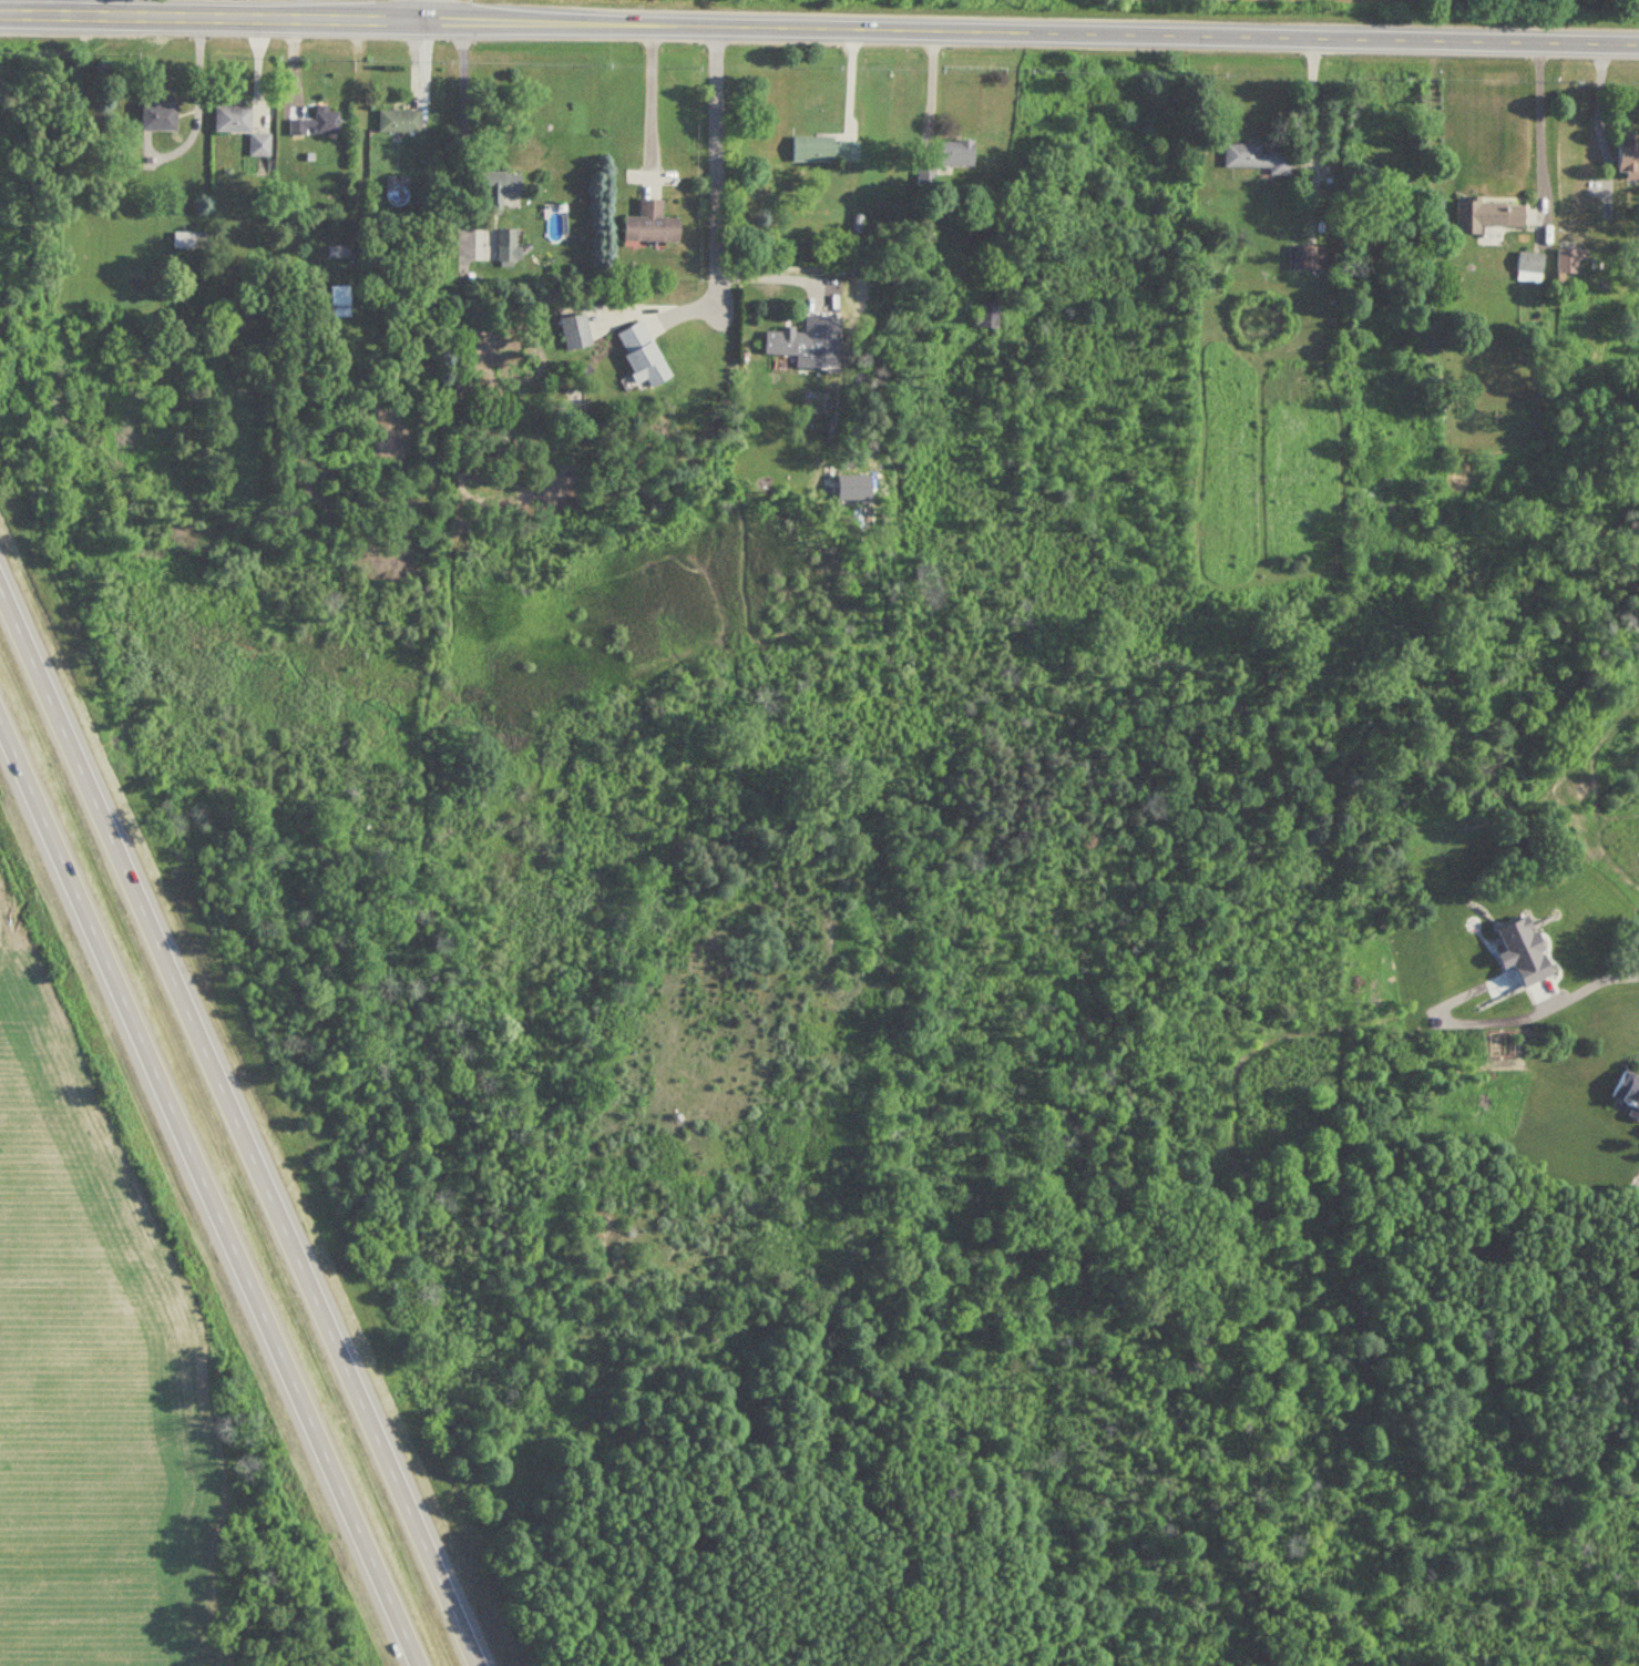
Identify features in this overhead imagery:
road: (69, 8)
road: (226, 10)
road: (426, 11)
road: (34, 16)
road: (246, 20)
road: (442, 23)
road: (1048, 34)
road: (651, 89)
road: (197, 99)
road: (1310, 99)
building: (153, 116)
road: (1597, 117)
building: (228, 119)
building: (395, 121)
building: (313, 123)
road: (1537, 129)
road: (461, 133)
building: (253, 144)
building: (821, 150)
road: (714, 153)
building: (952, 153)
building: (1622, 156)
building: (1371, 157)
building: (1253, 159)
building: (493, 187)
building: (1481, 215)
building: (645, 224)
building: (186, 239)
building: (503, 245)
building: (335, 251)
building: (1308, 256)
building: (1565, 259)
building: (1525, 266)
road: (780, 280)
building: (337, 300)
building: (985, 311)
building: (571, 331)
building: (792, 337)
building: (636, 355)
road: (1524, 1019)
road: (237, 1128)
road: (208, 1193)

